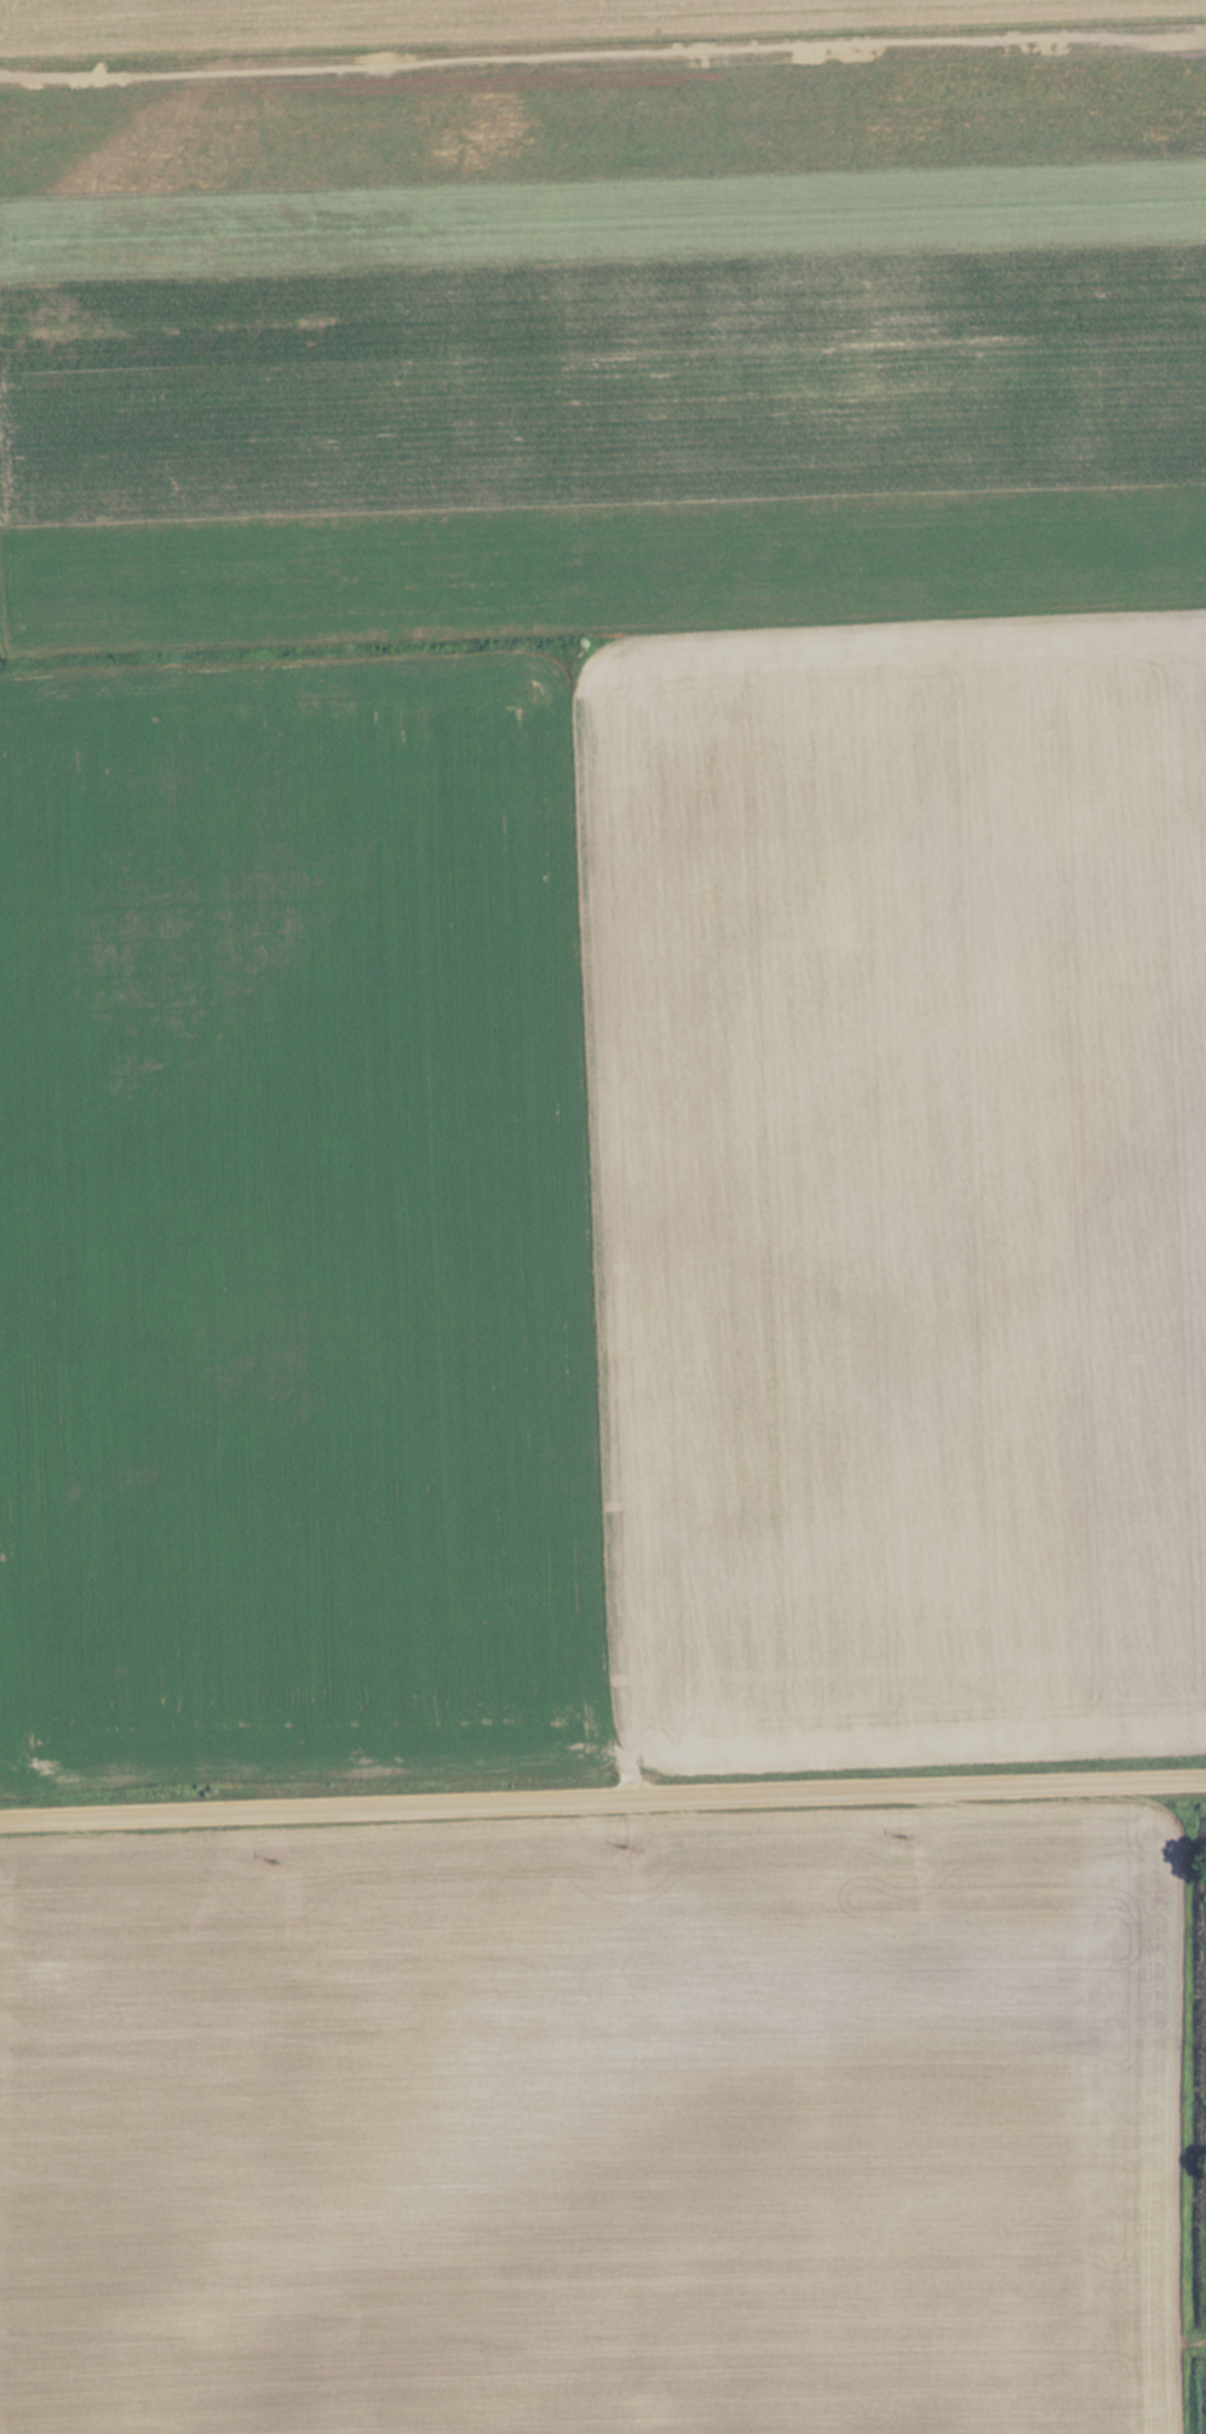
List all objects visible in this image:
road: (603, 1802)

